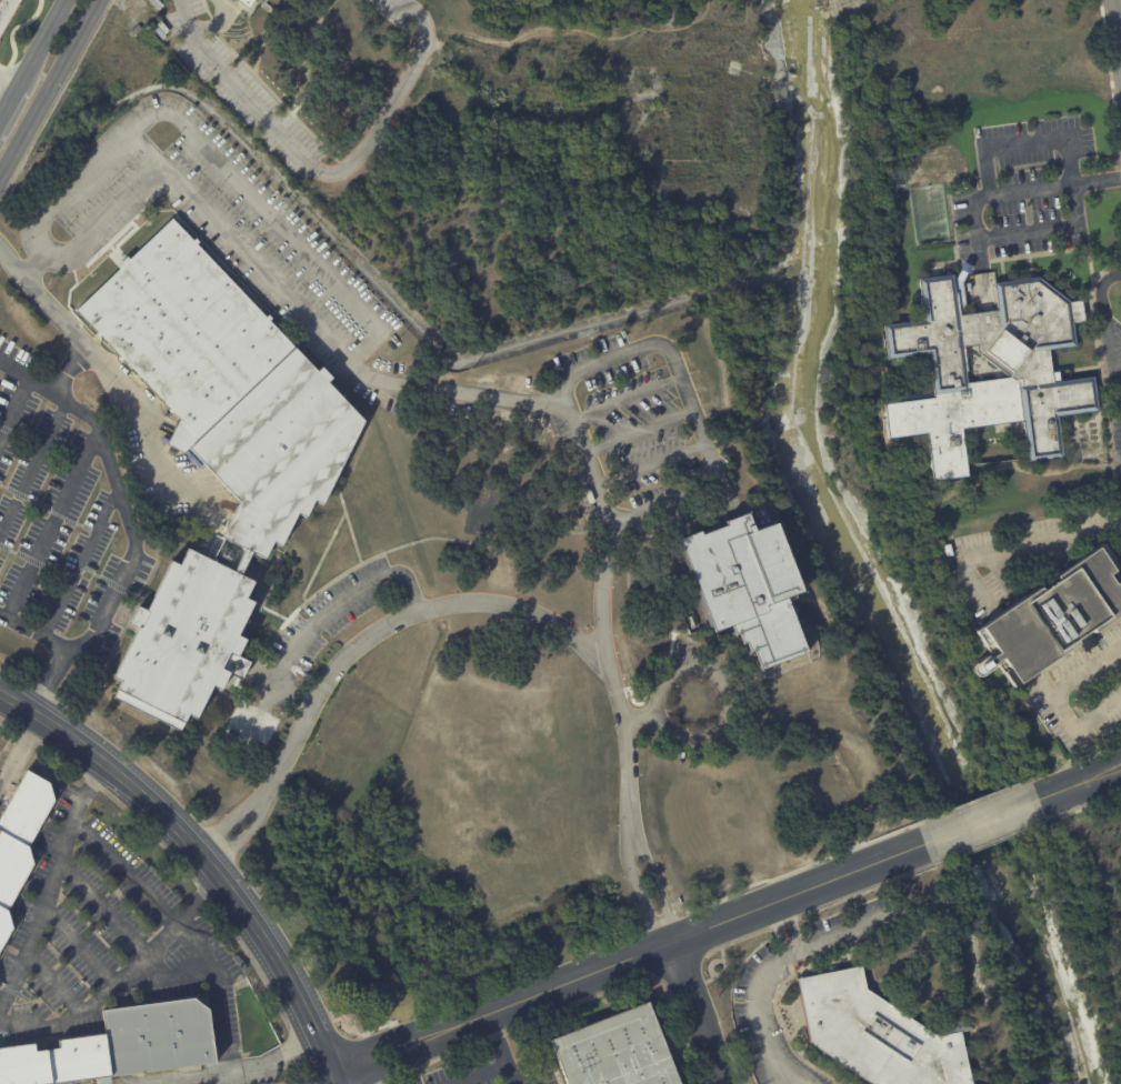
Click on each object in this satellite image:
building: (246, 1)
building: (258, 1)
building: (157, 3)
road: (3, 7)
building: (136, 30)
road: (41, 43)
road: (8, 72)
road: (50, 92)
road: (8, 102)
park: (512, 140)
road: (1024, 142)
road: (322, 170)
building: (900, 178)
road: (1095, 178)
road: (1031, 187)
road: (1017, 233)
building: (934, 235)
road: (1108, 325)
road: (71, 331)
road: (670, 349)
building: (1027, 371)
road: (29, 372)
building: (230, 383)
road: (624, 397)
road: (508, 399)
road: (638, 431)
road: (664, 500)
road: (129, 530)
road: (1013, 548)
building: (949, 550)
building: (242, 562)
building: (749, 586)
road: (328, 610)
building: (1053, 618)
road: (38, 634)
building: (186, 640)
road: (361, 643)
building: (981, 666)
road: (1057, 699)
road: (4, 703)
road: (1098, 714)
road: (18, 750)
road: (1108, 764)
road: (1108, 776)
road: (1064, 789)
road: (983, 822)
building: (19, 842)
road: (199, 853)
road: (843, 930)
road: (795, 951)
road: (632, 953)
road: (219, 990)
road: (753, 1001)
road: (697, 1012)
road: (2, 1016)
building: (878, 1034)
building: (158, 1040)
road: (499, 1048)
building: (617, 1051)
building: (58, 1064)
road: (243, 1070)
road: (478, 1074)
road: (778, 1075)
road: (790, 1075)
road: (337, 1077)

